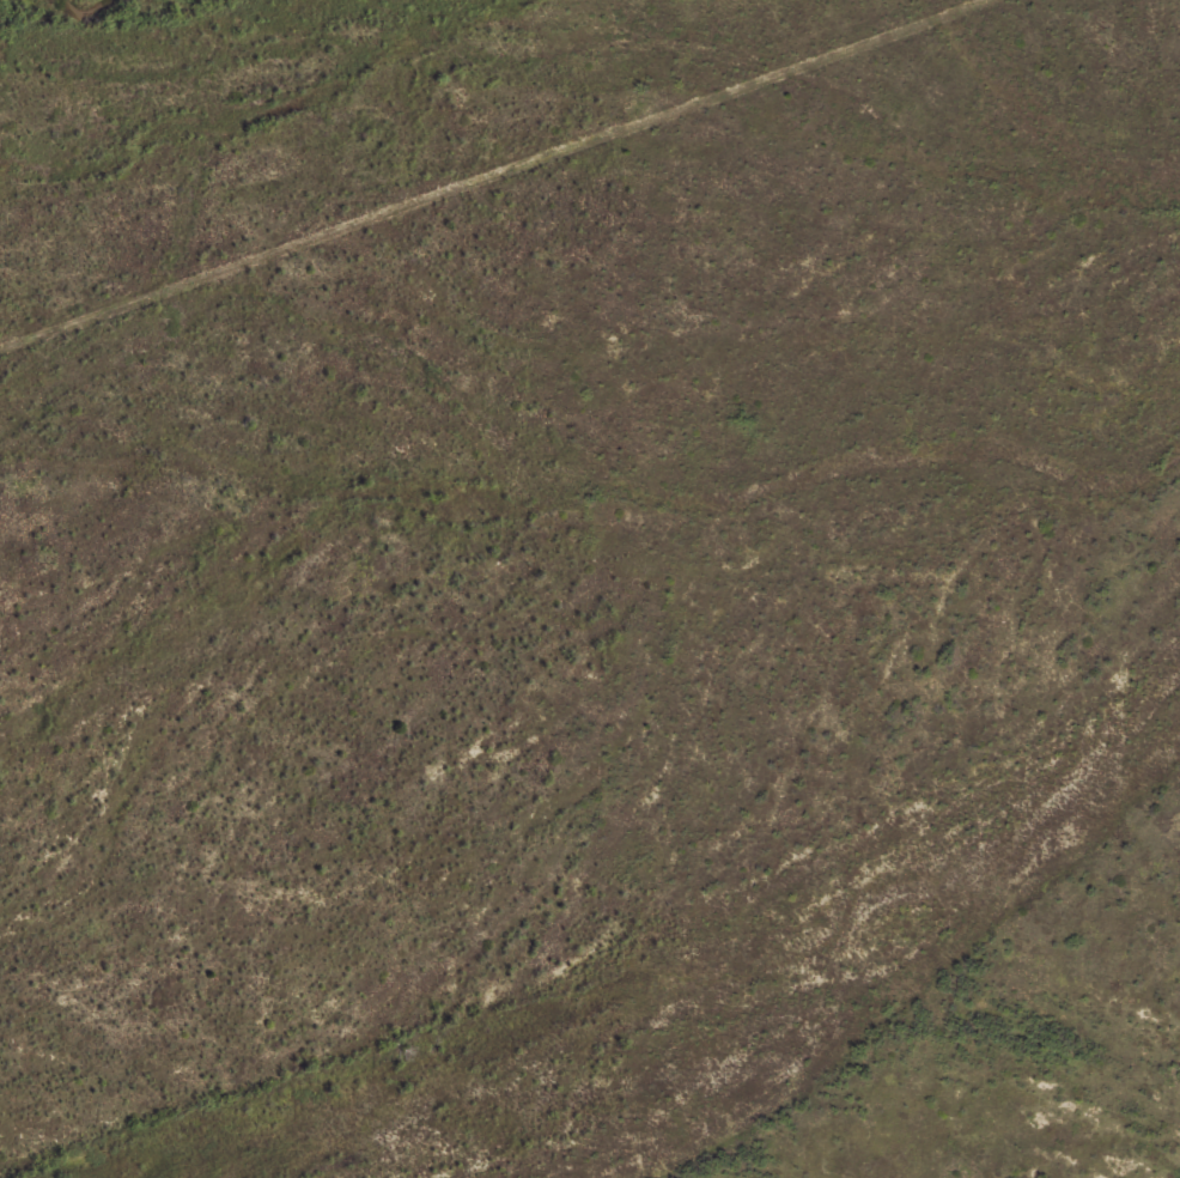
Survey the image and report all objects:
river: (79, 10)

